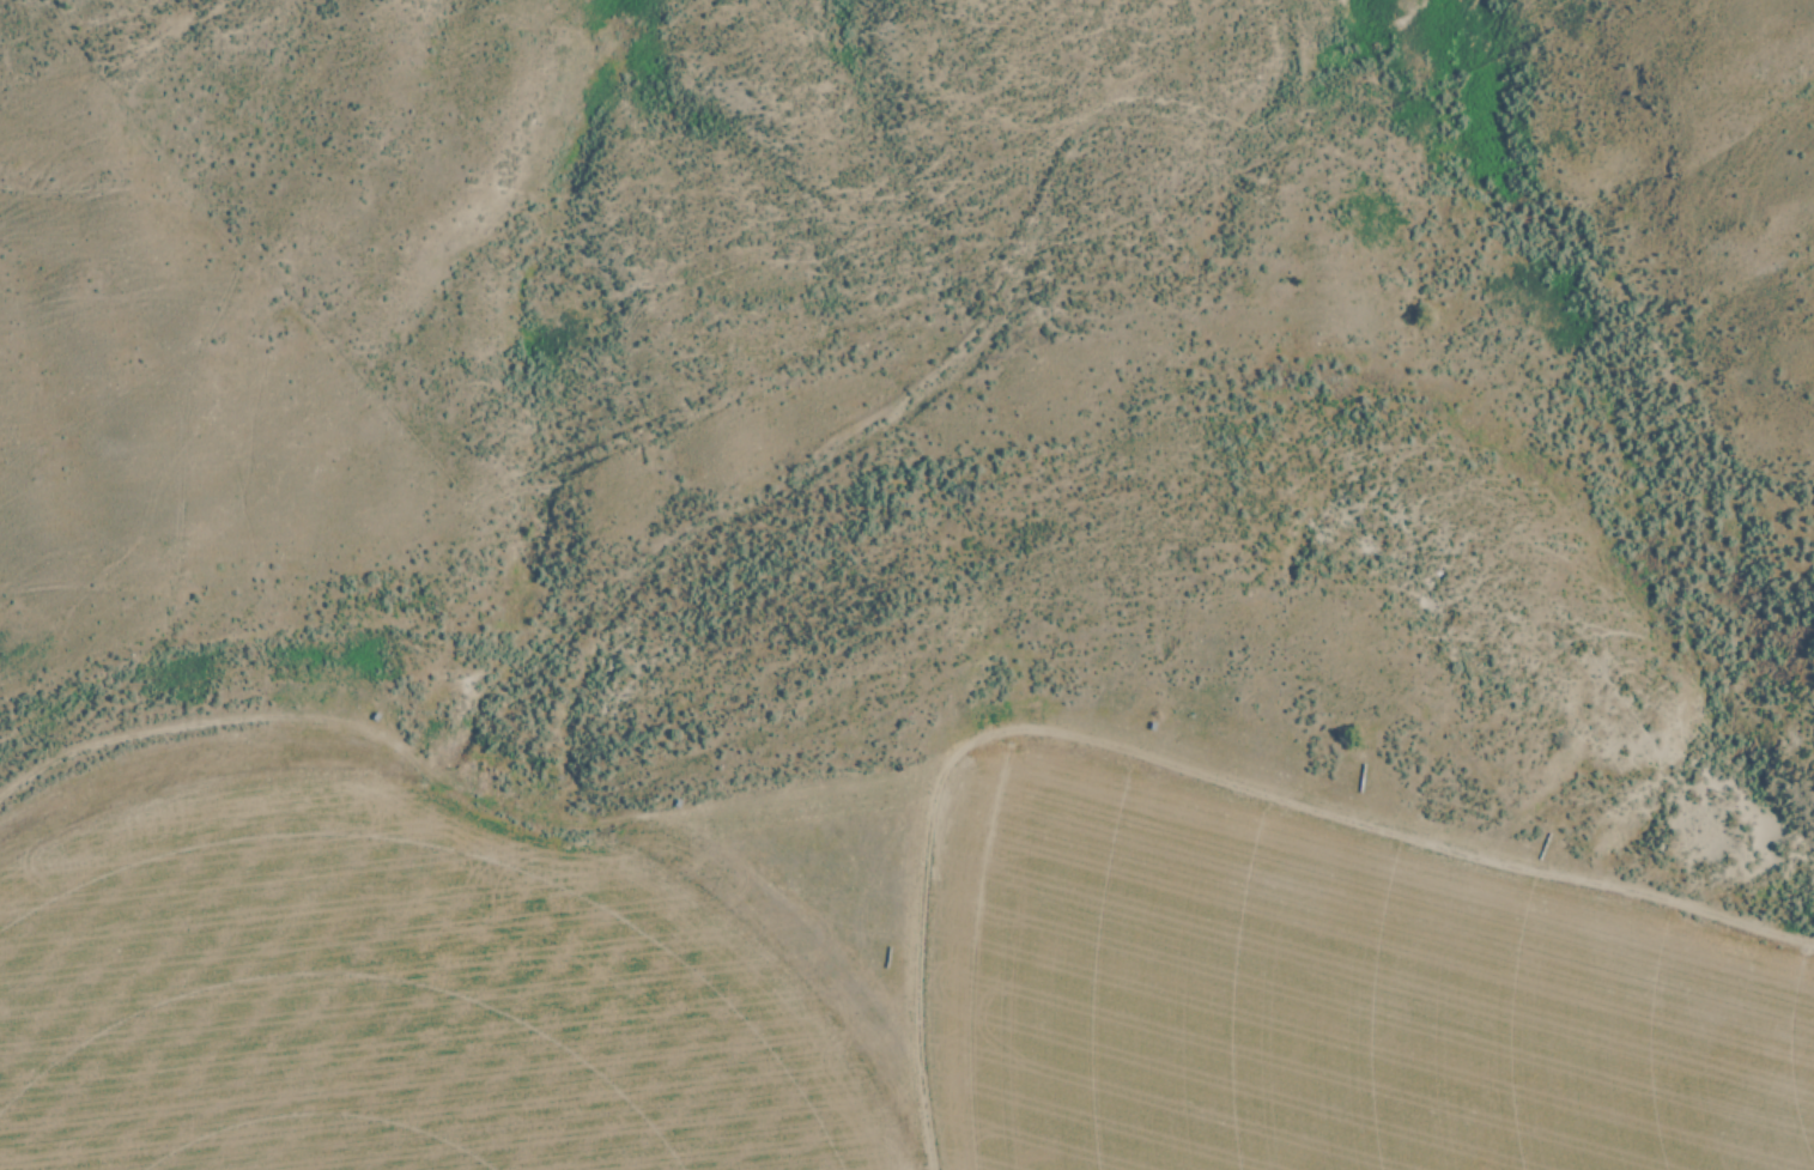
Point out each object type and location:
crop: (381, 983)
crop: (1340, 1011)

